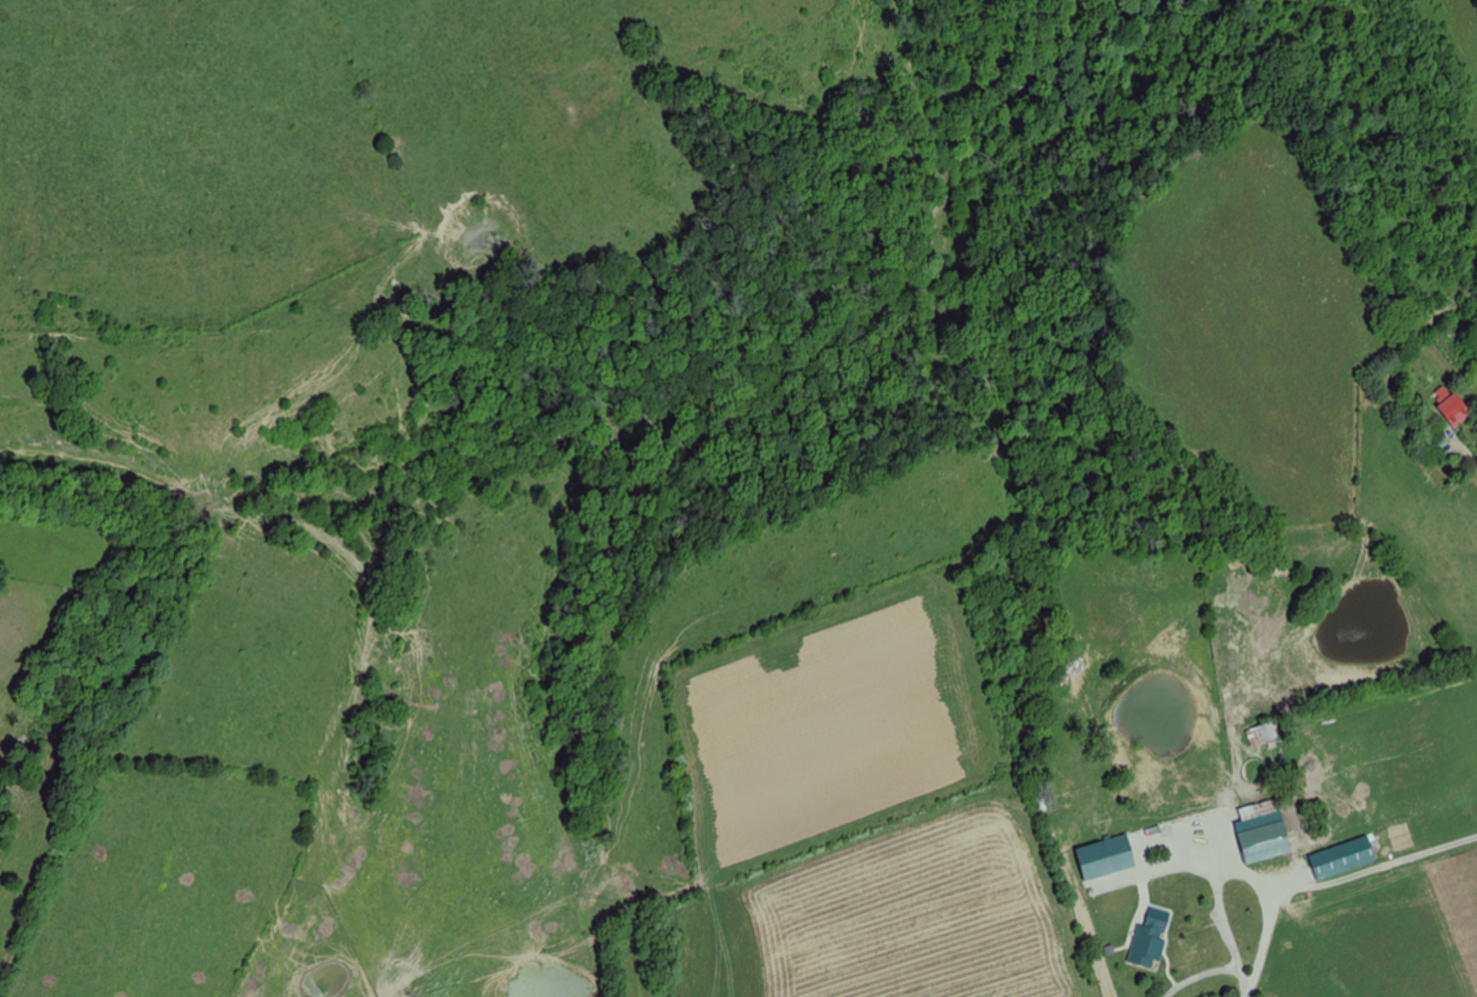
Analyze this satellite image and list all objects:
building: (1455, 410)
road: (1464, 447)
building: (1262, 734)
building: (1263, 832)
building: (1366, 849)
building: (1106, 857)
road: (1287, 885)
building: (1176, 953)

